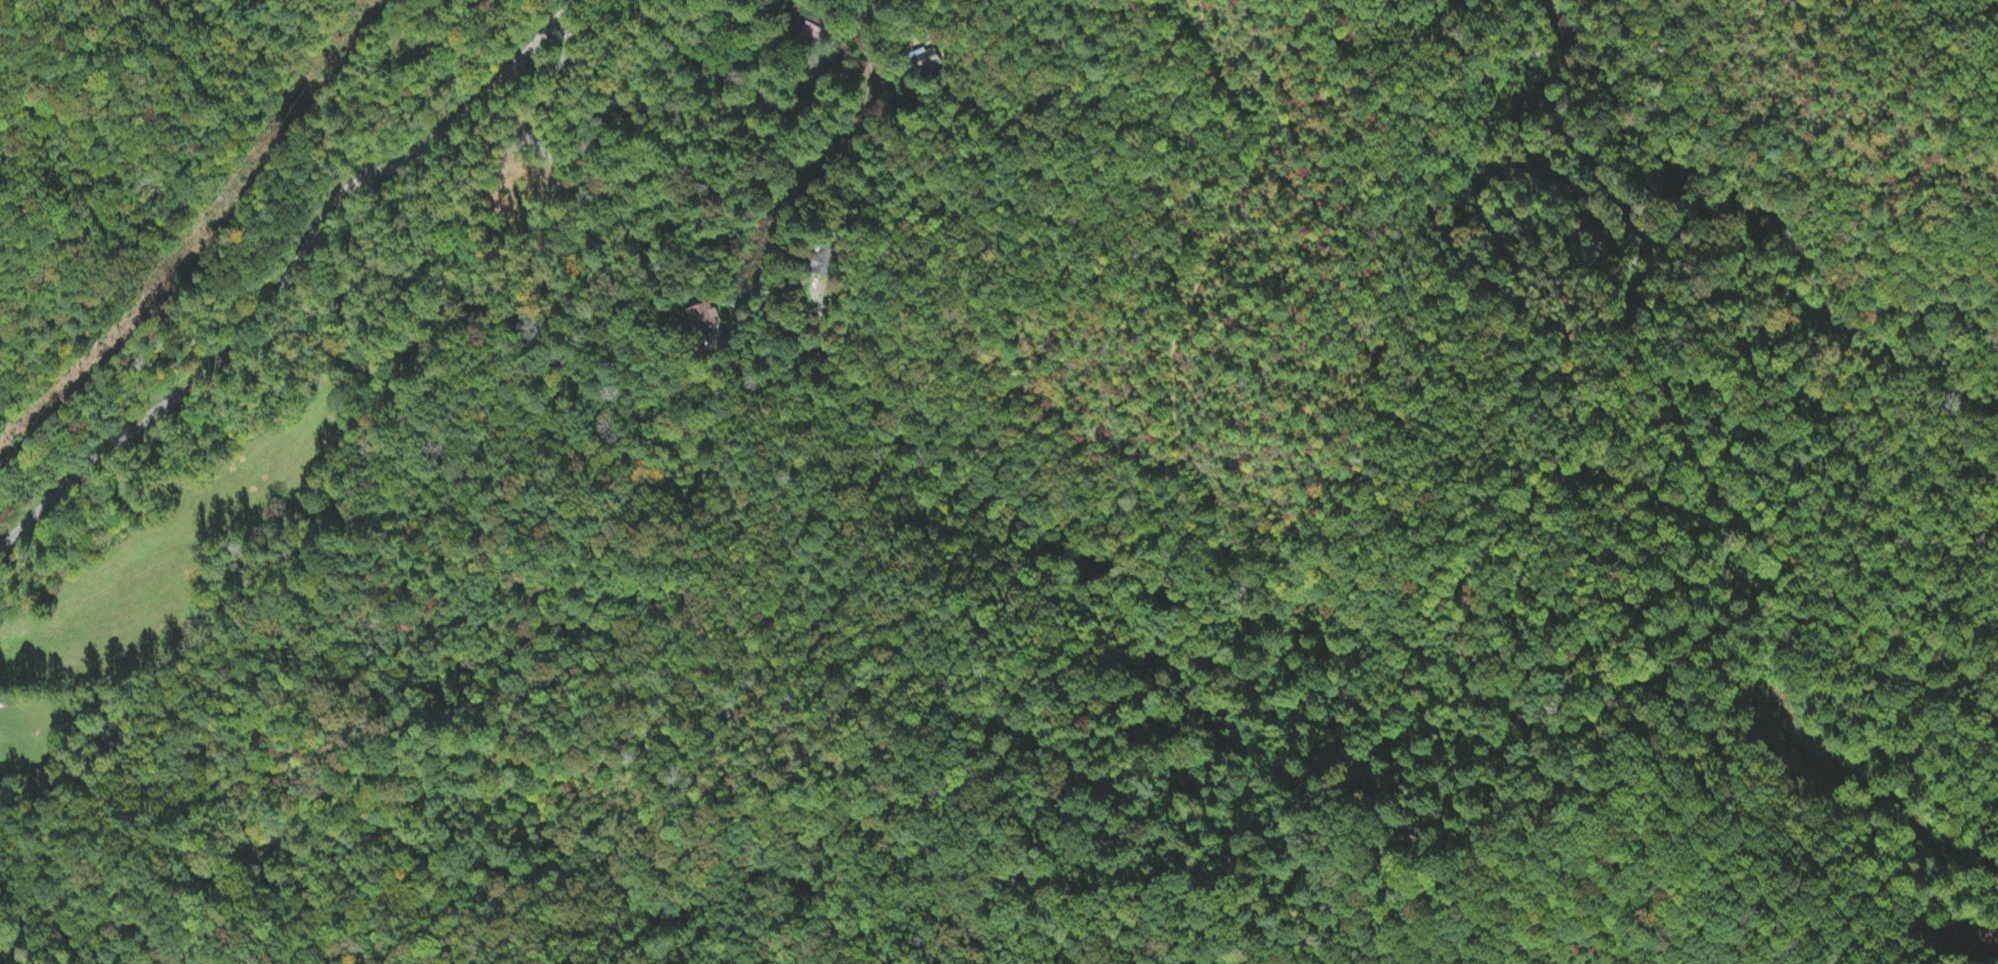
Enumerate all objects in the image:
road: (852, 151)
road: (288, 274)
building: (708, 317)
road: (1906, 811)
road: (98, 829)

